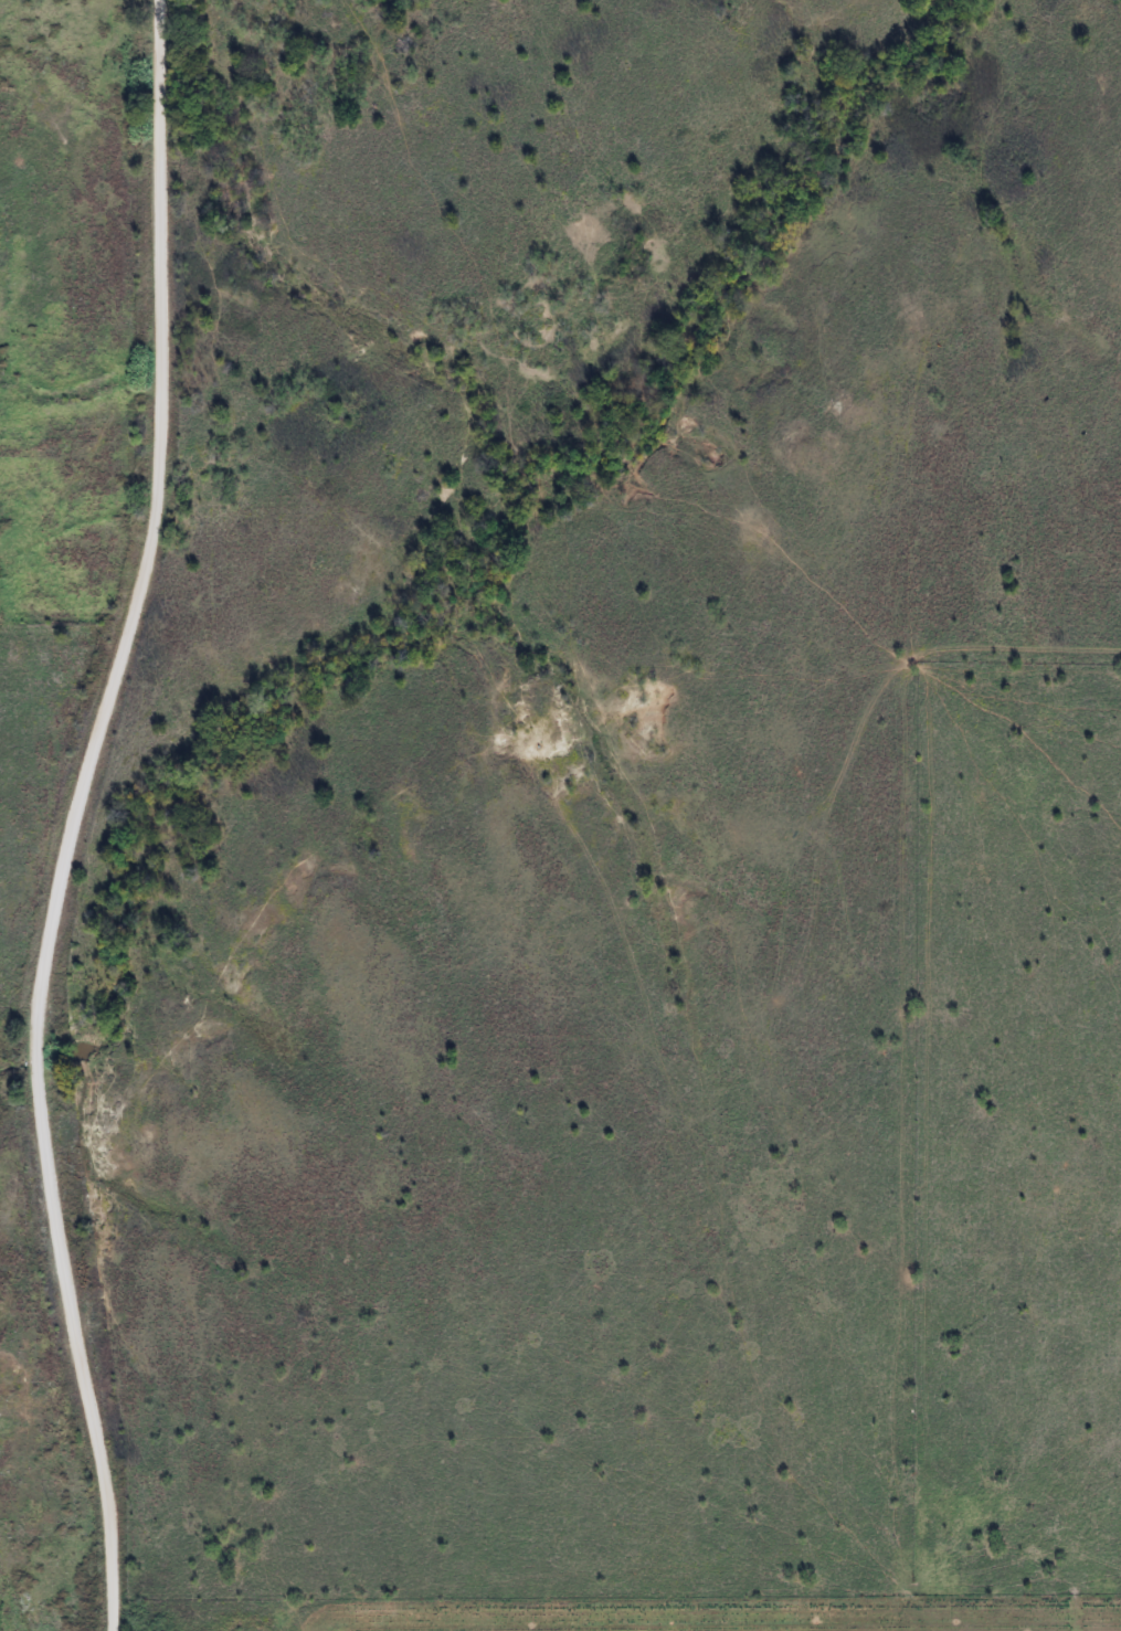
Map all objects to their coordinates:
road: (83, 815)

